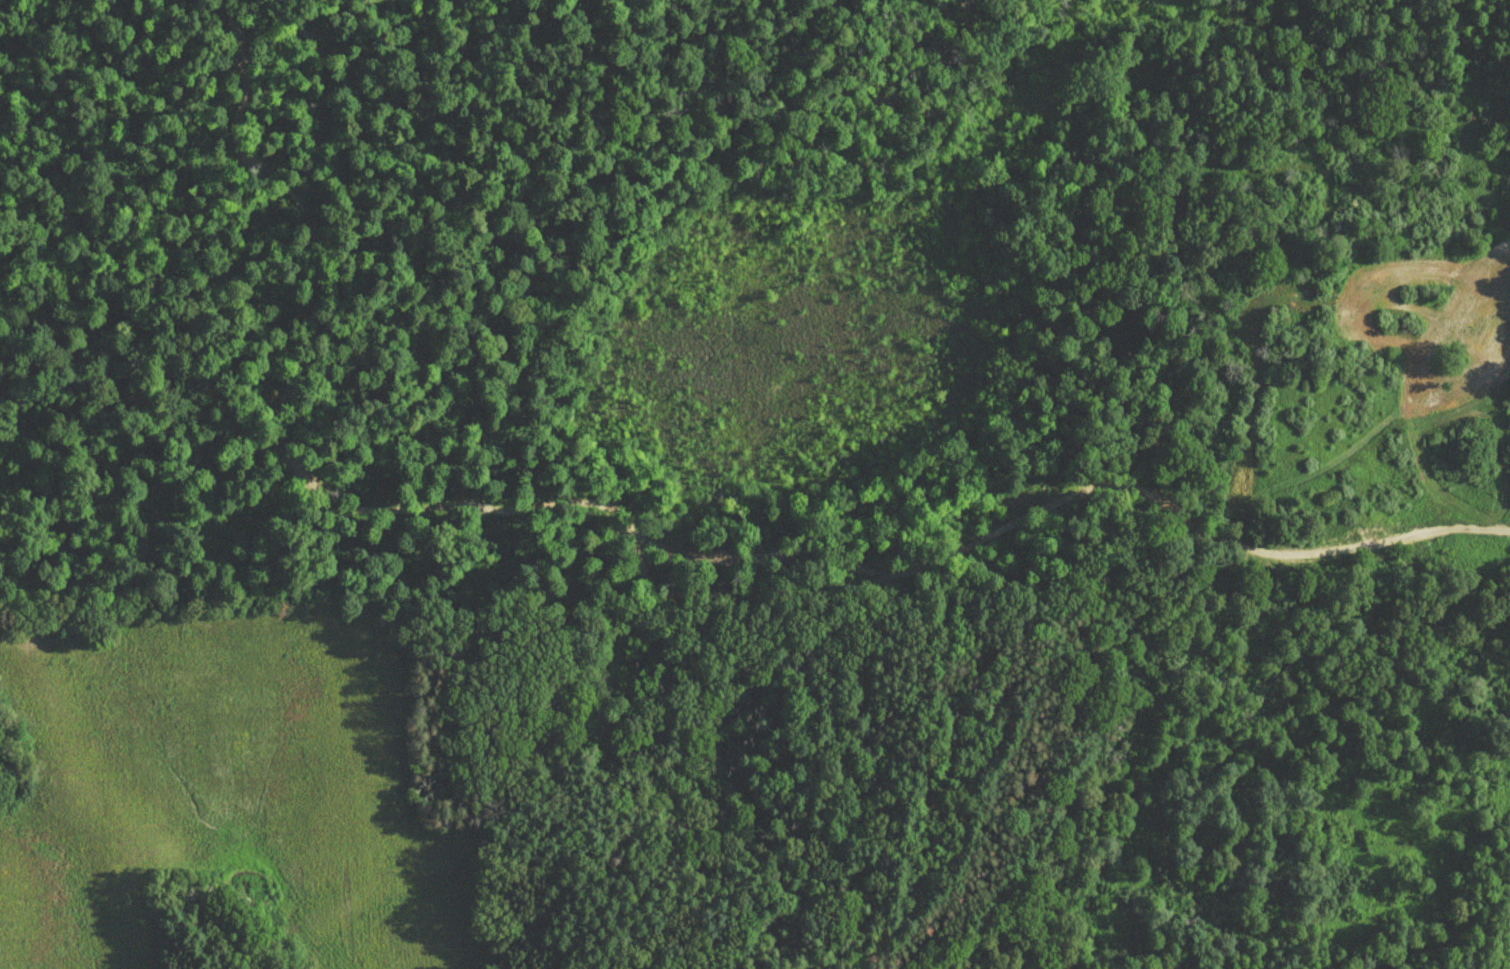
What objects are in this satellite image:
road: (641, 561)

